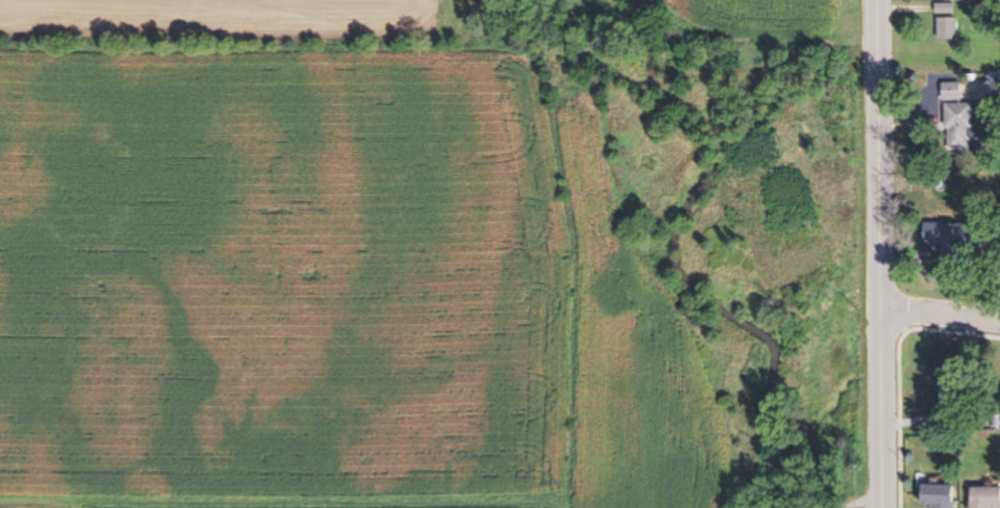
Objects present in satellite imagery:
building: (947, 9)
building: (949, 28)
road: (875, 108)
building: (961, 121)
building: (950, 240)
road: (941, 315)
road: (882, 361)
building: (951, 388)
building: (941, 496)
building: (987, 497)

